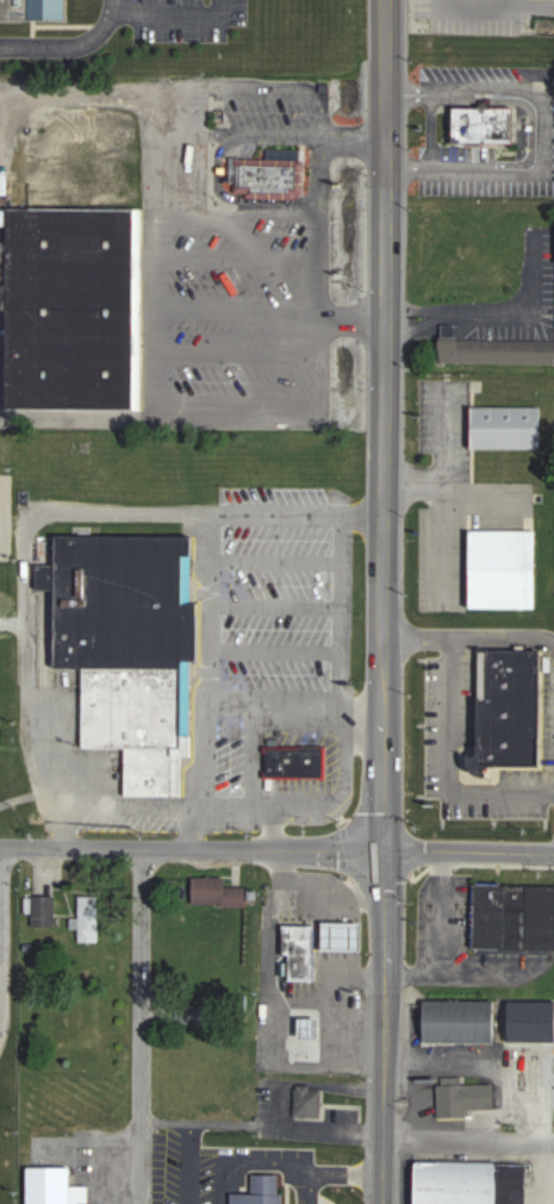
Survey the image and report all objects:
building: (36, 10)
road: (170, 10)
road: (68, 43)
building: (486, 123)
building: (270, 173)
road: (319, 229)
building: (75, 308)
building: (496, 350)
building: (509, 426)
building: (505, 568)
road: (27, 595)
road: (382, 601)
road: (211, 609)
road: (341, 613)
road: (468, 636)
building: (132, 649)
building: (511, 709)
building: (298, 761)
road: (450, 762)
road: (203, 775)
road: (24, 790)
road: (241, 809)
road: (274, 829)
road: (276, 850)
traffic signals: (382, 850)
road: (2, 878)
building: (219, 892)
building: (44, 910)
building: (515, 916)
building: (89, 918)
building: (344, 935)
building: (301, 953)
building: (462, 1021)
road: (138, 1025)
building: (309, 1033)
building: (466, 1098)
building: (309, 1102)
road: (468, 1140)
road: (548, 1173)
building: (473, 1183)
building: (56, 1186)
building: (263, 1191)

